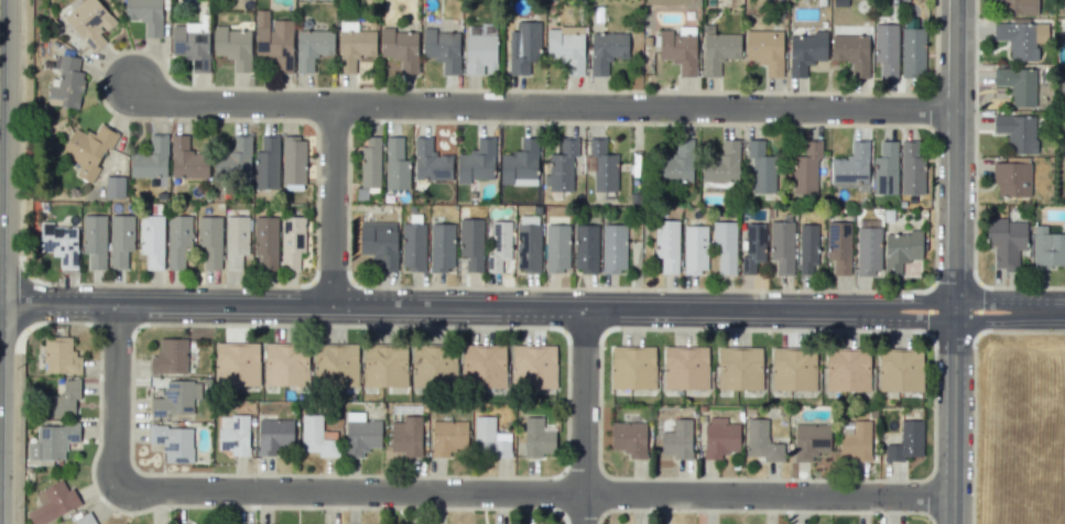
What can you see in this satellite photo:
building: (1019, 7)
building: (144, 14)
building: (89, 22)
building: (1018, 40)
building: (273, 41)
building: (191, 44)
building: (354, 45)
building: (232, 46)
building: (312, 47)
building: (522, 47)
building: (565, 47)
building: (400, 48)
building: (442, 48)
building: (678, 48)
building: (480, 50)
building: (717, 50)
building: (764, 50)
building: (885, 50)
building: (606, 51)
building: (852, 51)
building: (805, 52)
building: (912, 52)
building: (66, 84)
building: (1062, 84)
building: (1017, 85)
road: (542, 107)
building: (1017, 132)
building: (87, 150)
road: (955, 155)
building: (150, 159)
building: (235, 159)
building: (186, 160)
building: (293, 161)
building: (430, 161)
building: (476, 162)
building: (267, 163)
building: (370, 163)
building: (676, 163)
building: (395, 164)
building: (520, 164)
building: (721, 164)
building: (851, 165)
building: (561, 166)
building: (600, 166)
building: (760, 167)
building: (911, 167)
building: (805, 168)
building: (884, 170)
building: (1011, 178)
building: (113, 187)
road: (332, 206)
building: (209, 239)
building: (94, 240)
building: (120, 240)
building: (151, 240)
building: (177, 240)
building: (236, 241)
building: (1006, 241)
building: (265, 242)
building: (291, 242)
building: (59, 243)
building: (379, 243)
building: (470, 243)
building: (499, 245)
building: (666, 245)
building: (725, 245)
building: (412, 247)
building: (441, 247)
building: (752, 247)
building: (838, 247)
building: (528, 248)
building: (556, 248)
building: (585, 248)
building: (613, 248)
building: (1047, 248)
building: (694, 249)
building: (806, 249)
building: (868, 251)
building: (900, 251)
road: (477, 307)
road: (1010, 310)
building: (59, 356)
building: (170, 357)
building: (236, 363)
building: (285, 364)
building: (335, 364)
building: (384, 365)
building: (433, 365)
building: (483, 365)
building: (533, 365)
building: (632, 368)
building: (685, 368)
building: (739, 369)
building: (793, 369)
building: (847, 370)
building: (899, 371)
building: (175, 399)
building: (62, 400)
road: (586, 416)
road: (954, 417)
building: (233, 434)
building: (360, 434)
building: (272, 435)
building: (406, 436)
building: (316, 437)
building: (447, 437)
building: (719, 437)
building: (537, 438)
building: (628, 438)
building: (489, 439)
building: (677, 439)
building: (855, 439)
building: (809, 440)
building: (52, 441)
building: (761, 441)
building: (905, 441)
building: (173, 443)
road: (441, 492)
building: (53, 503)
building: (86, 521)

